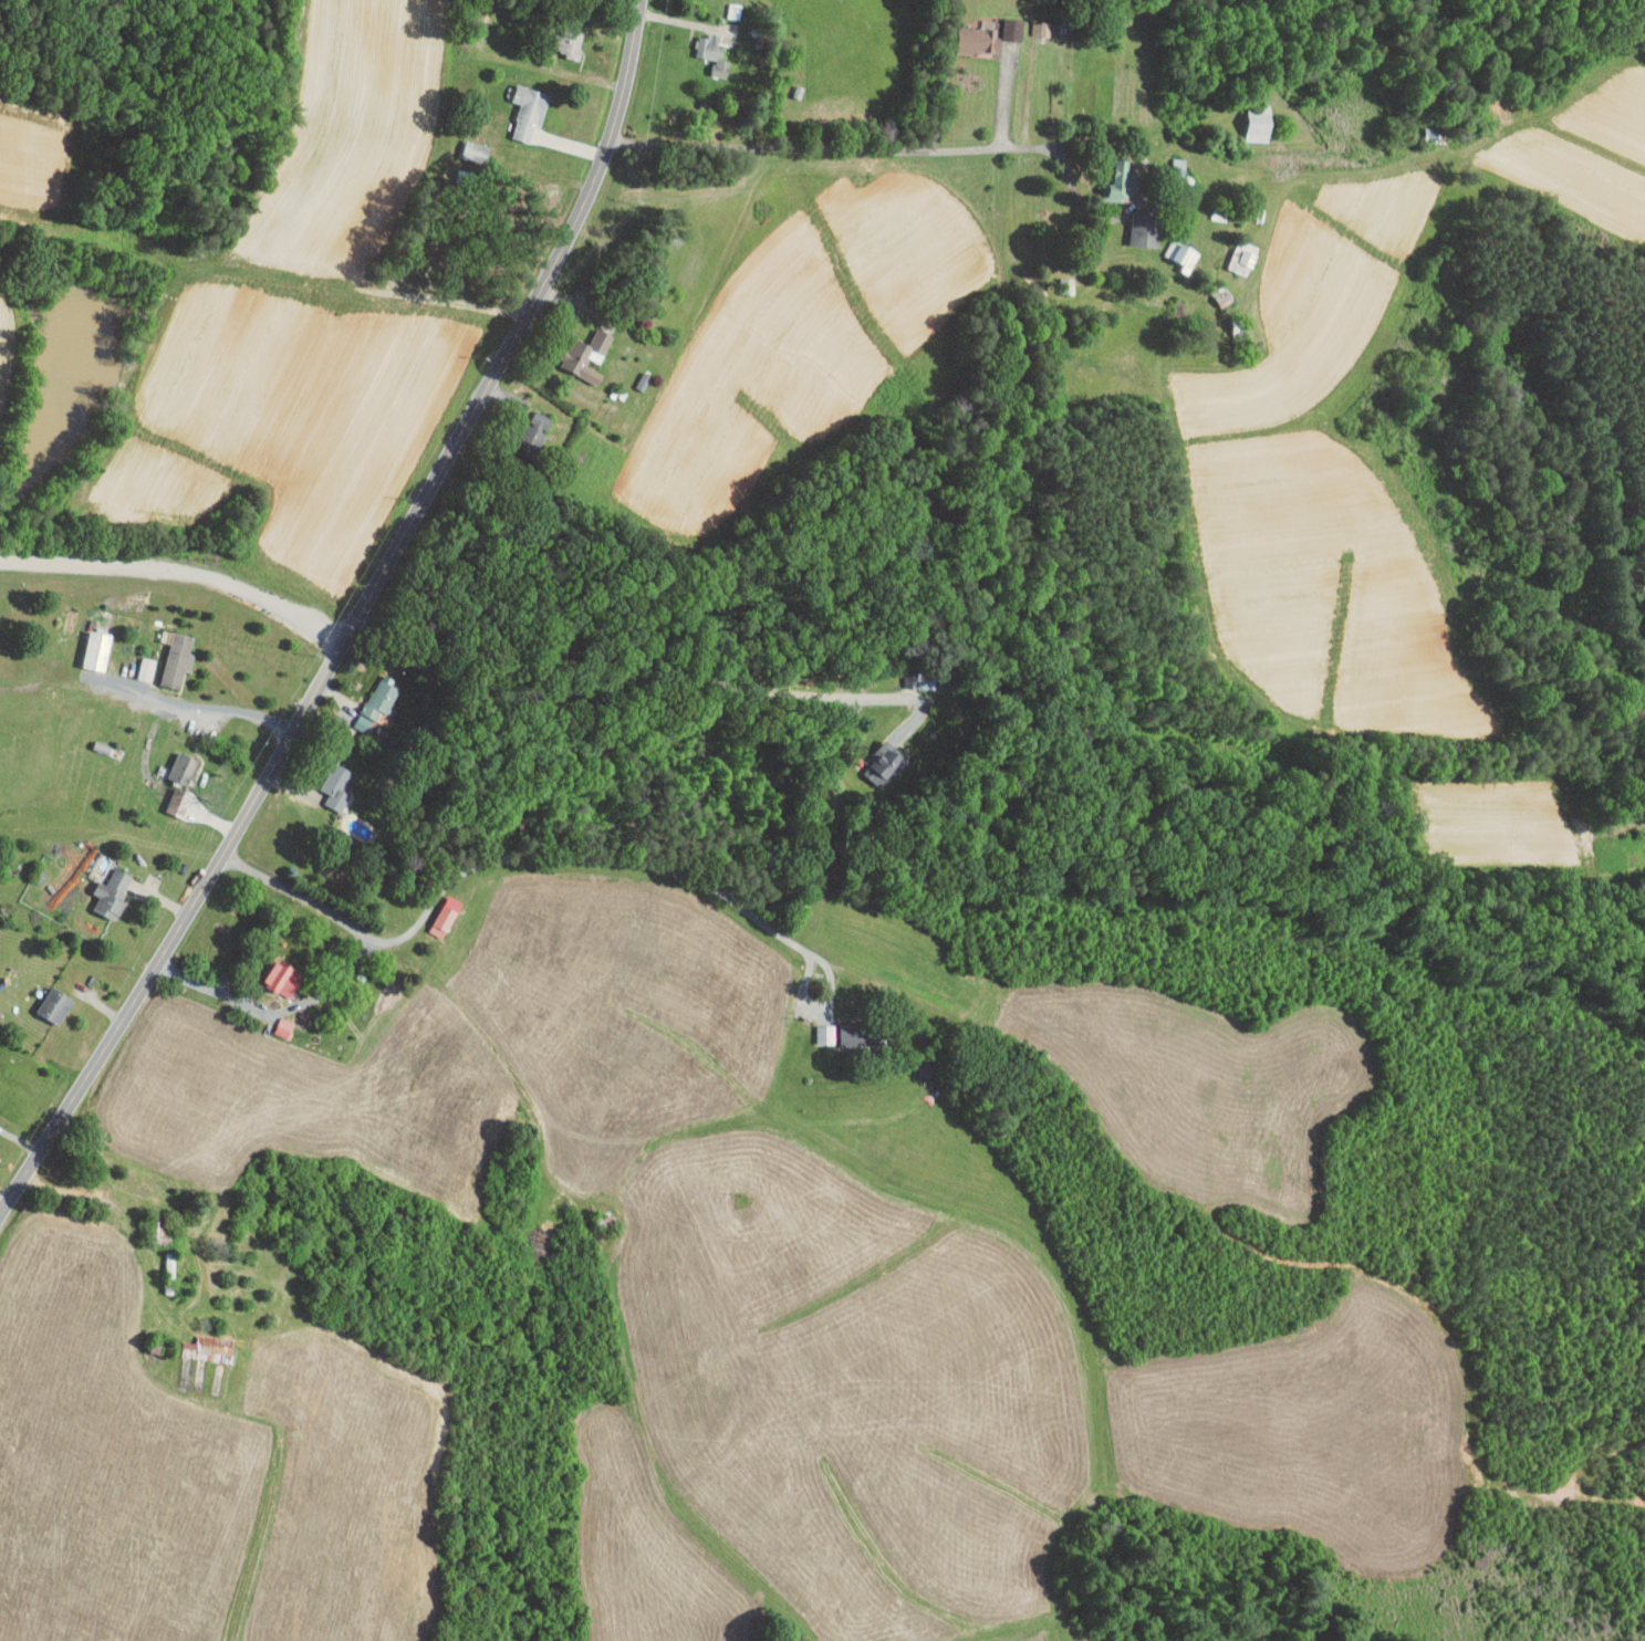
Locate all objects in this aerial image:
building: (722, 6)
building: (1028, 21)
building: (977, 28)
building: (561, 34)
building: (700, 45)
building: (518, 103)
building: (1246, 116)
building: (462, 144)
road: (966, 150)
building: (1110, 170)
building: (1132, 224)
building: (1170, 244)
building: (1231, 251)
building: (579, 348)
building: (631, 374)
building: (528, 419)
road: (178, 573)
road: (353, 621)
building: (86, 641)
building: (167, 652)
building: (134, 661)
road: (644, 681)
building: (365, 696)
road: (196, 705)
building: (872, 757)
building: (170, 775)
building: (327, 778)
road: (534, 857)
building: (102, 885)
building: (435, 909)
building: (272, 971)
building: (44, 997)
road: (274, 1010)
building: (273, 1021)
building: (815, 1026)
building: (198, 1340)

